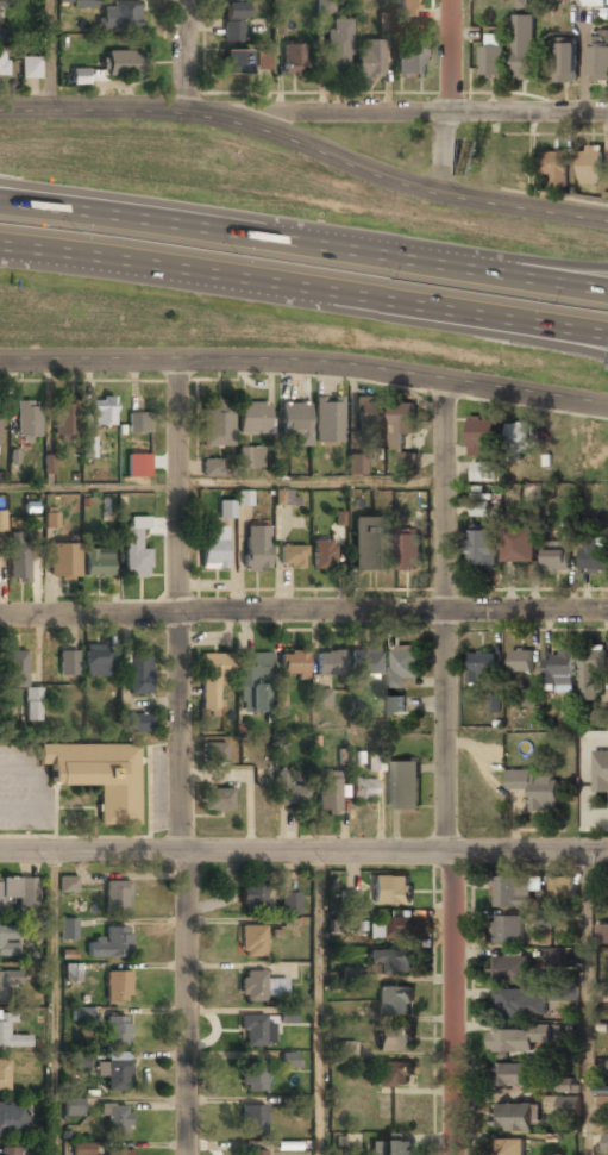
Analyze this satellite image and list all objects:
building: (594, 2)
building: (5, 4)
building: (84, 4)
building: (325, 5)
building: (406, 8)
building: (119, 17)
building: (232, 21)
building: (403, 29)
building: (338, 45)
building: (524, 48)
road: (46, 54)
road: (180, 54)
road: (446, 55)
building: (491, 57)
building: (263, 58)
building: (370, 58)
building: (294, 60)
building: (410, 61)
building: (598, 61)
building: (564, 62)
building: (2, 63)
building: (236, 63)
building: (124, 64)
building: (30, 68)
road: (89, 107)
road: (394, 108)
road: (443, 146)
building: (590, 166)
building: (554, 168)
road: (390, 173)
road: (151, 204)
road: (149, 220)
road: (14, 245)
road: (14, 250)
road: (380, 254)
road: (534, 260)
road: (159, 267)
road: (534, 275)
road: (449, 308)
road: (445, 326)
road: (305, 366)
building: (102, 412)
building: (369, 416)
building: (252, 419)
building: (27, 420)
building: (328, 422)
building: (64, 423)
building: (139, 423)
building: (295, 423)
building: (401, 423)
building: (218, 424)
building: (483, 437)
building: (520, 437)
building: (88, 447)
building: (249, 458)
building: (407, 461)
building: (49, 463)
building: (356, 464)
building: (212, 468)
building: (144, 473)
building: (488, 473)
road: (221, 486)
building: (244, 498)
building: (283, 499)
building: (479, 508)
building: (225, 510)
building: (51, 519)
building: (1, 523)
building: (370, 545)
building: (521, 547)
building: (214, 548)
building: (482, 548)
building: (136, 549)
building: (256, 549)
building: (408, 549)
building: (322, 556)
building: (594, 556)
building: (557, 557)
building: (292, 558)
building: (63, 563)
building: (98, 563)
building: (19, 564)
road: (303, 613)
building: (521, 661)
building: (96, 662)
building: (368, 663)
building: (68, 664)
building: (294, 664)
building: (330, 664)
building: (403, 666)
building: (481, 668)
building: (558, 670)
building: (591, 675)
building: (139, 676)
building: (214, 680)
building: (23, 682)
building: (255, 683)
building: (527, 698)
building: (321, 699)
building: (395, 706)
building: (600, 717)
building: (136, 724)
building: (214, 754)
road: (178, 757)
building: (375, 763)
road: (455, 767)
building: (601, 772)
building: (99, 775)
building: (402, 785)
building: (535, 787)
building: (363, 789)
building: (290, 792)
building: (328, 797)
building: (217, 800)
road: (303, 851)
building: (68, 884)
building: (391, 889)
building: (17, 892)
building: (509, 892)
building: (563, 892)
building: (117, 897)
building: (252, 897)
building: (347, 899)
building: (289, 904)
building: (544, 918)
building: (68, 929)
building: (389, 929)
building: (507, 930)
building: (602, 934)
building: (251, 942)
building: (6, 945)
building: (111, 945)
building: (554, 956)
building: (390, 961)
building: (512, 969)
building: (71, 973)
building: (8, 980)
building: (261, 987)
building: (117, 988)
building: (563, 992)
building: (602, 992)
road: (54, 1003)
building: (394, 1003)
building: (520, 1003)
road: (320, 1004)
road: (588, 1004)
building: (81, 1014)
building: (288, 1016)
building: (4, 1028)
building: (118, 1031)
building: (256, 1031)
building: (395, 1039)
building: (510, 1041)
building: (346, 1050)
building: (80, 1060)
building: (289, 1060)
building: (115, 1074)
building: (4, 1075)
building: (391, 1075)
building: (513, 1075)
building: (253, 1078)
building: (564, 1085)
building: (569, 1105)
building: (74, 1106)
building: (602, 1113)
building: (516, 1116)
building: (13, 1118)
building: (115, 1120)
building: (252, 1120)
building: (607, 1144)
building: (510, 1147)
building: (83, 1148)
building: (393, 1148)
building: (10, 1151)
building: (118, 1153)
building: (252, 1154)

